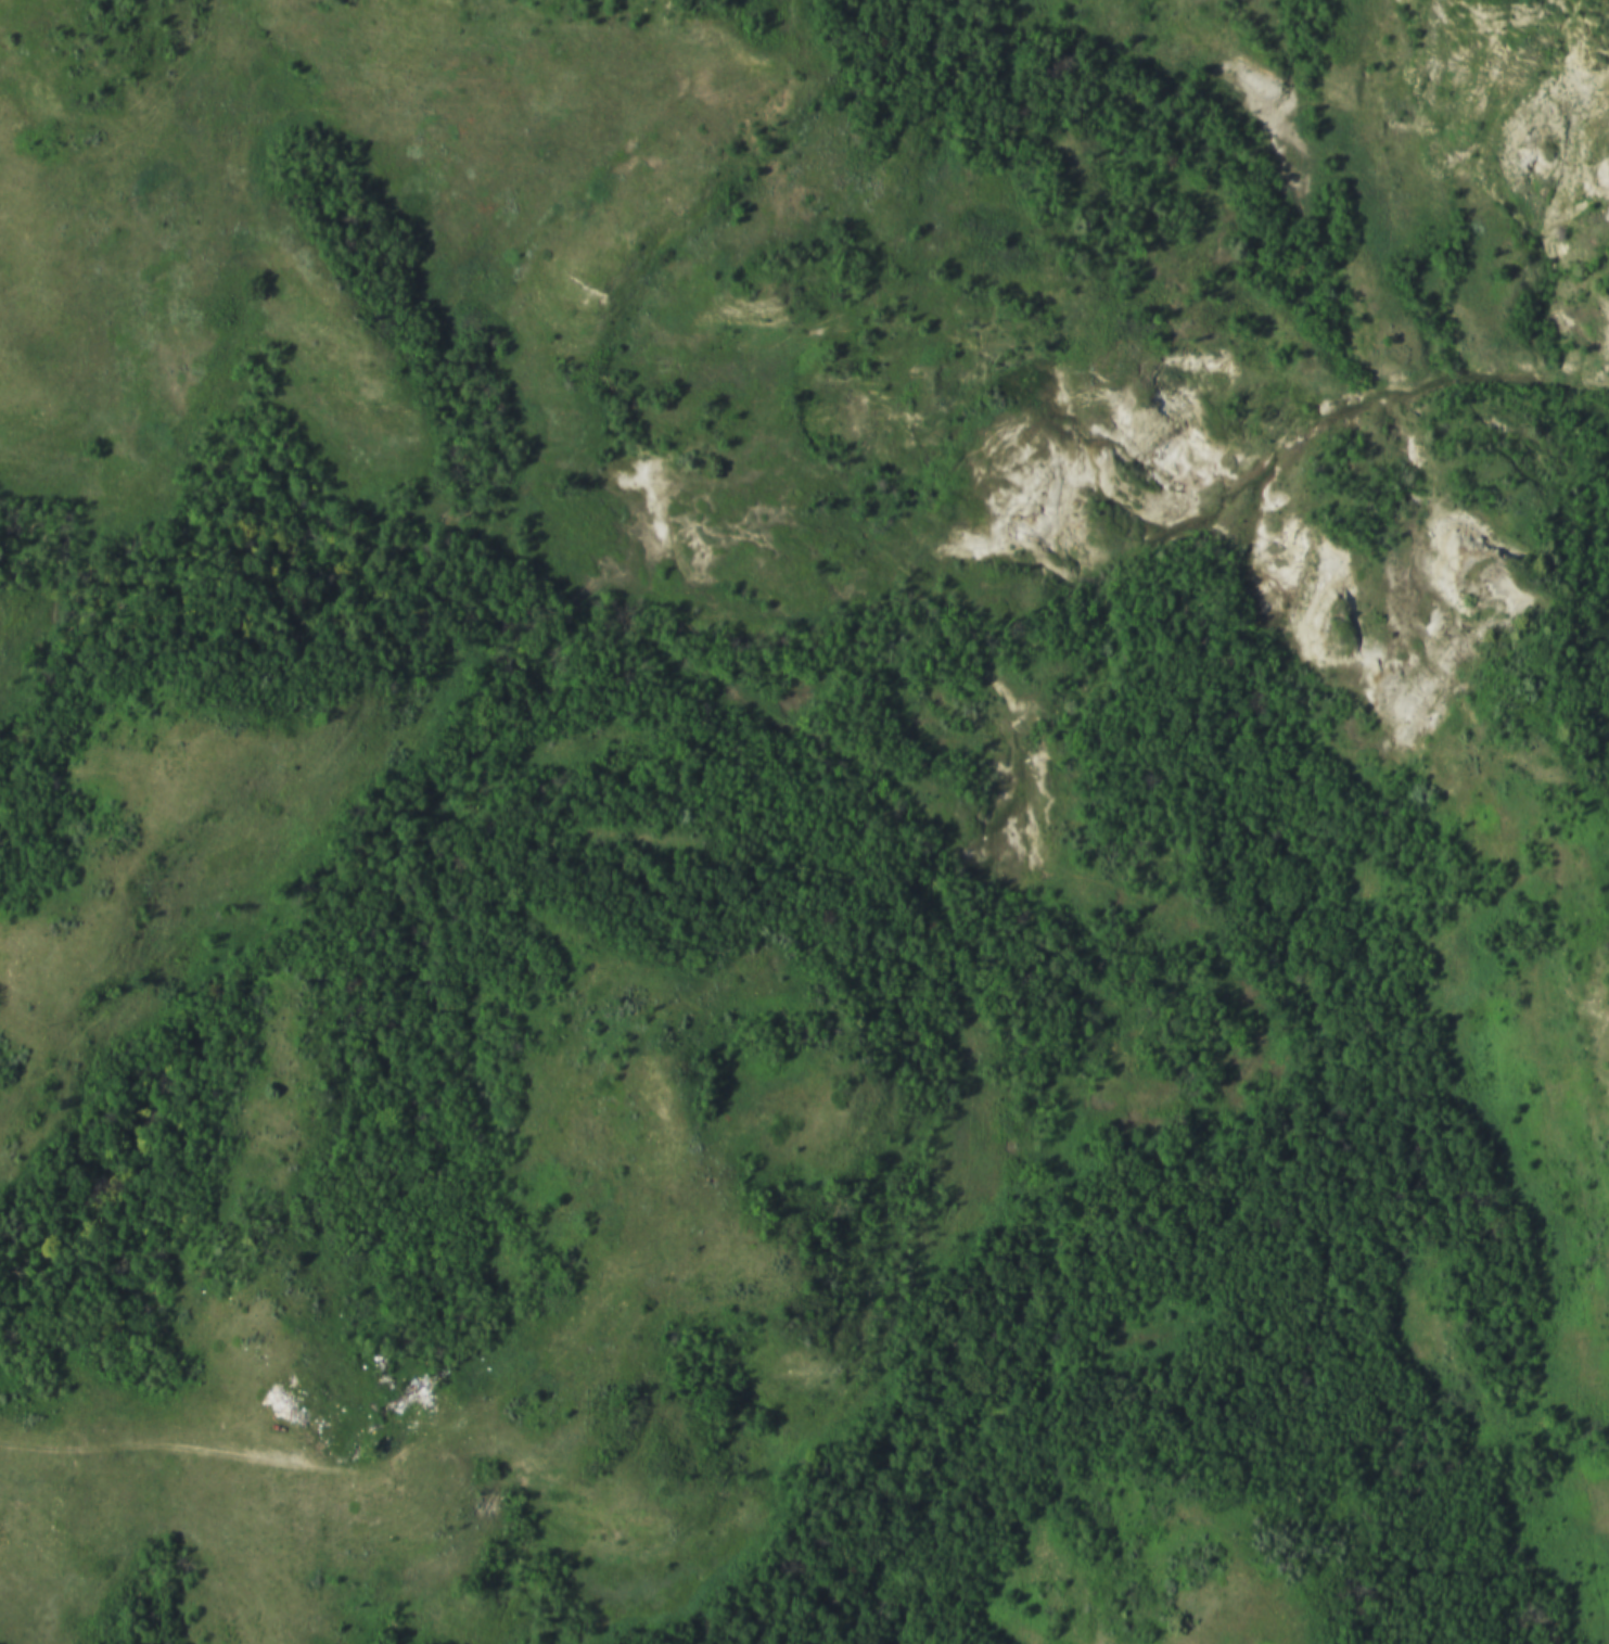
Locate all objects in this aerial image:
road: (282, 1458)

